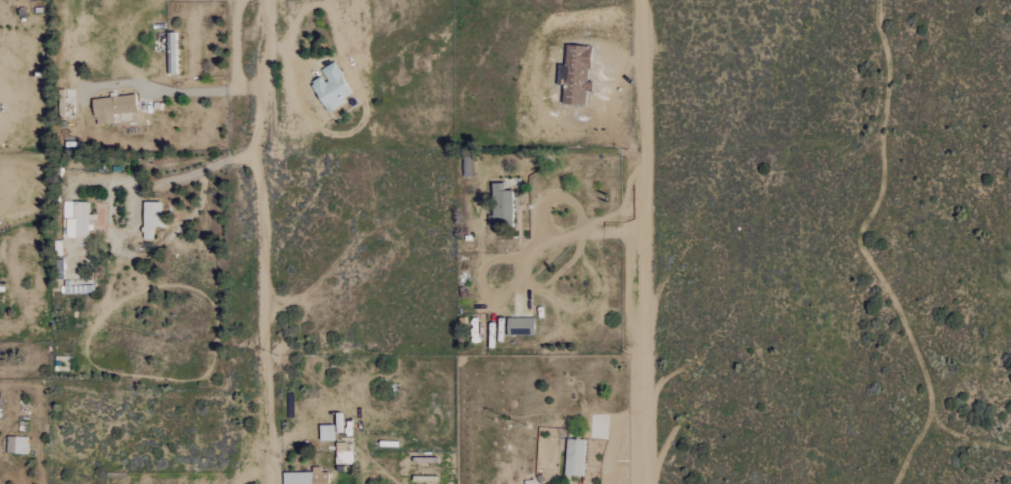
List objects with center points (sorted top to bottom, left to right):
building: (171, 53)
building: (330, 88)
road: (179, 91)
building: (111, 107)
road: (171, 177)
building: (500, 205)
building: (150, 218)
building: (75, 219)
road: (646, 241)
road: (260, 242)
road: (526, 253)
building: (325, 433)
building: (16, 445)
building: (341, 454)
building: (574, 457)
building: (305, 477)

